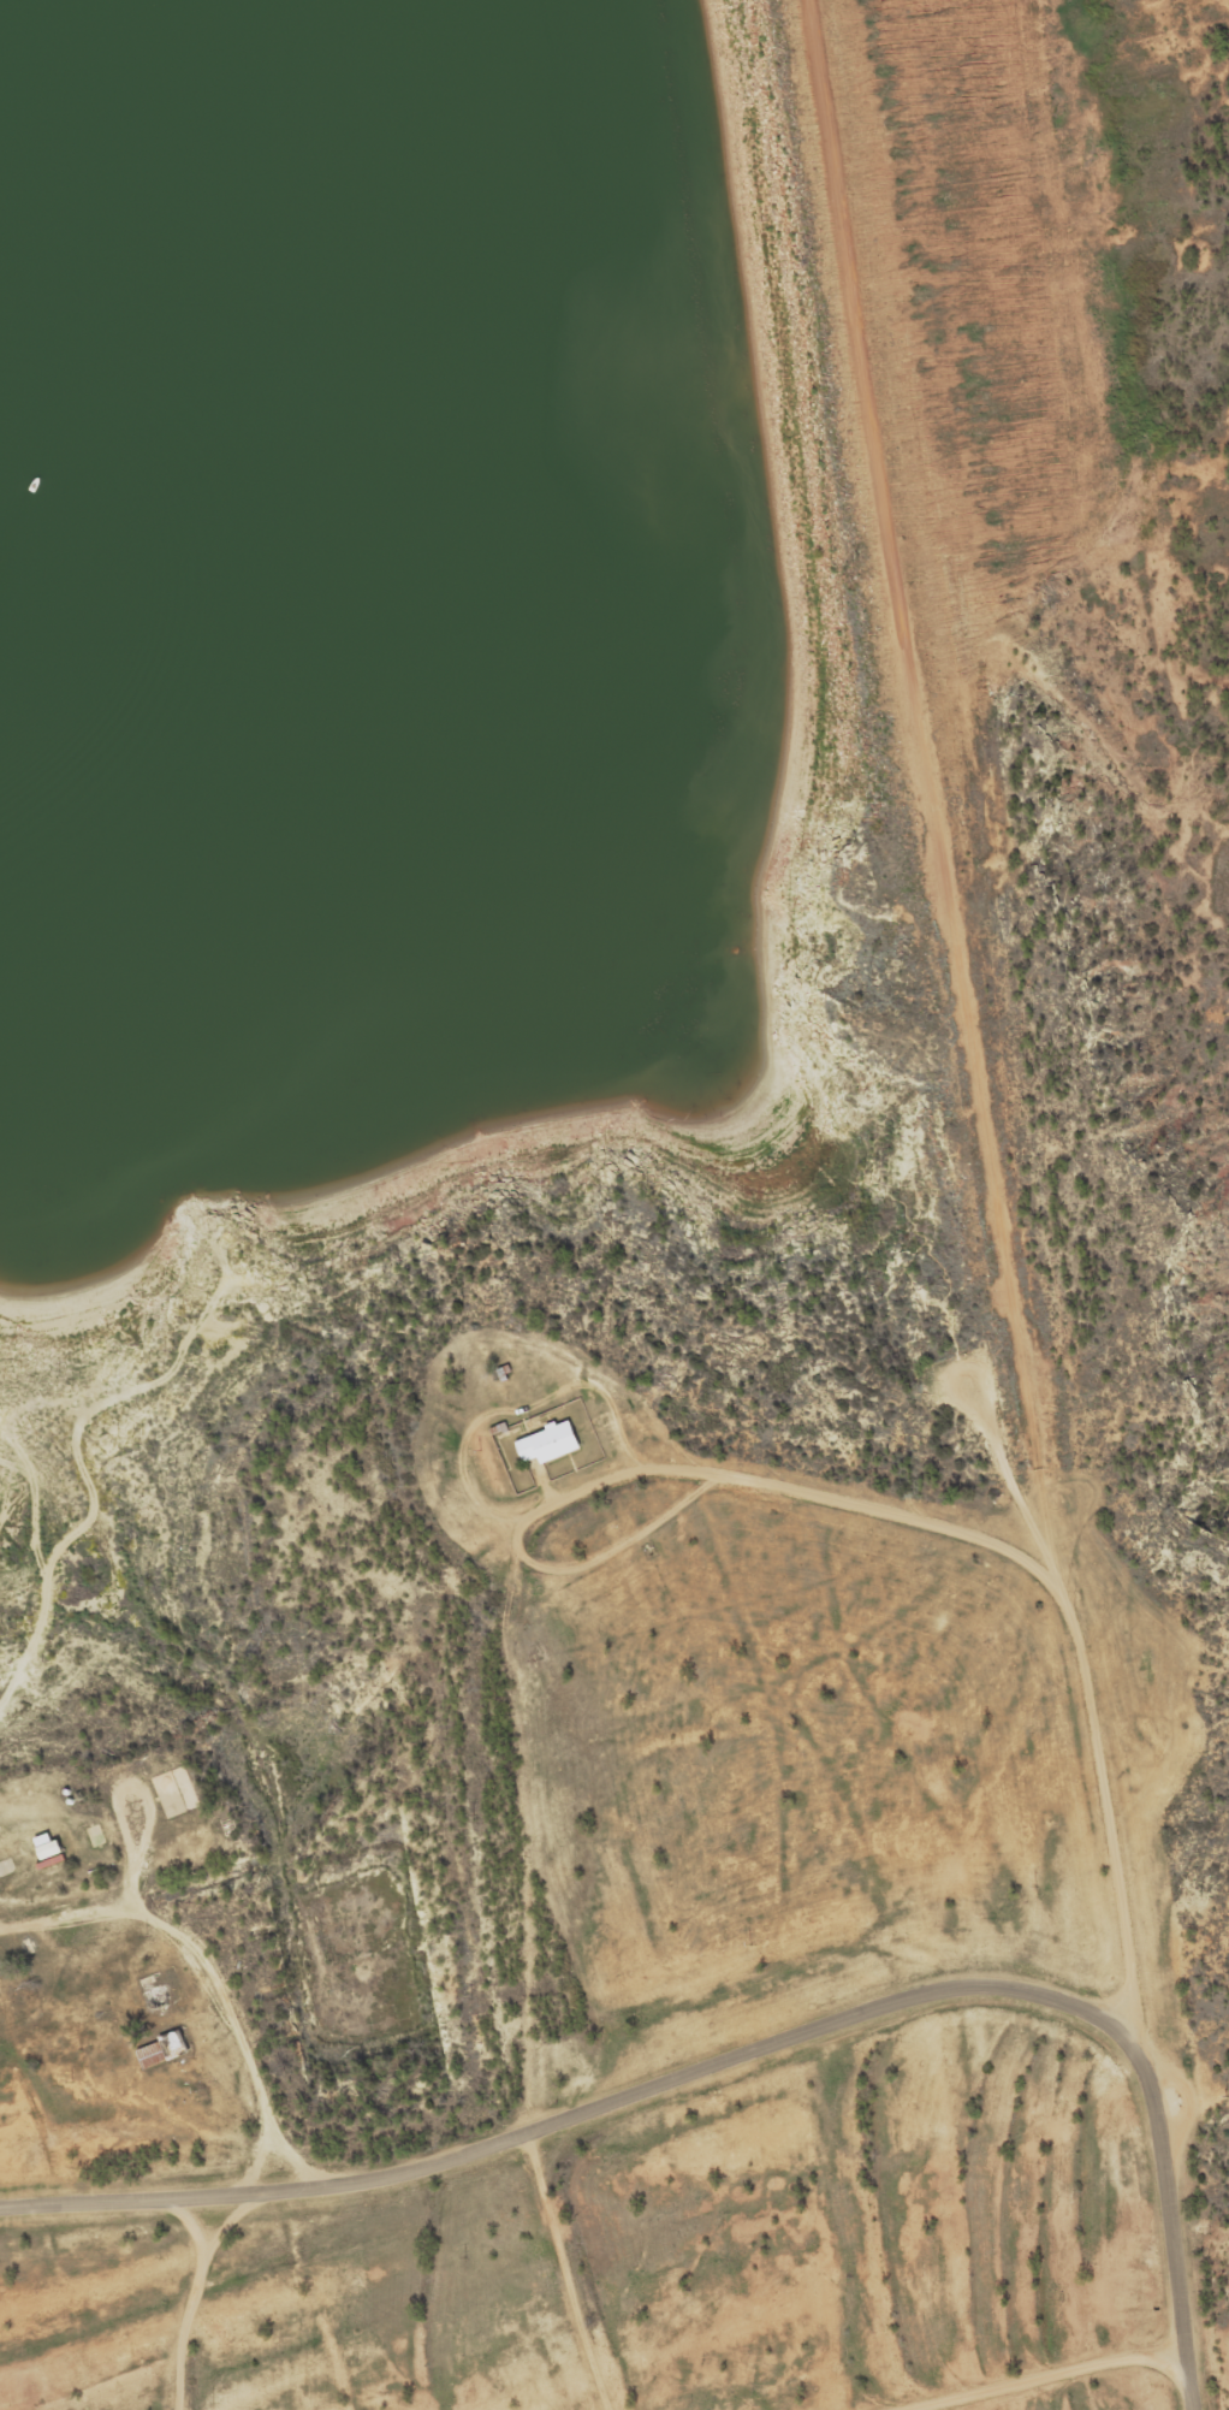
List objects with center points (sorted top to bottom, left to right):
dam: (964, 298)
road: (921, 651)
road: (817, 1345)
road: (758, 1415)
building: (548, 1443)
road: (1025, 1482)
road: (848, 1498)
building: (47, 1846)
building: (5, 1867)
building: (156, 1997)
road: (219, 1999)
road: (44, 2041)
road: (753, 2047)
building: (162, 2048)
road: (46, 2074)
road: (108, 2096)
road: (565, 2269)
road: (194, 2291)
road: (1035, 2371)

